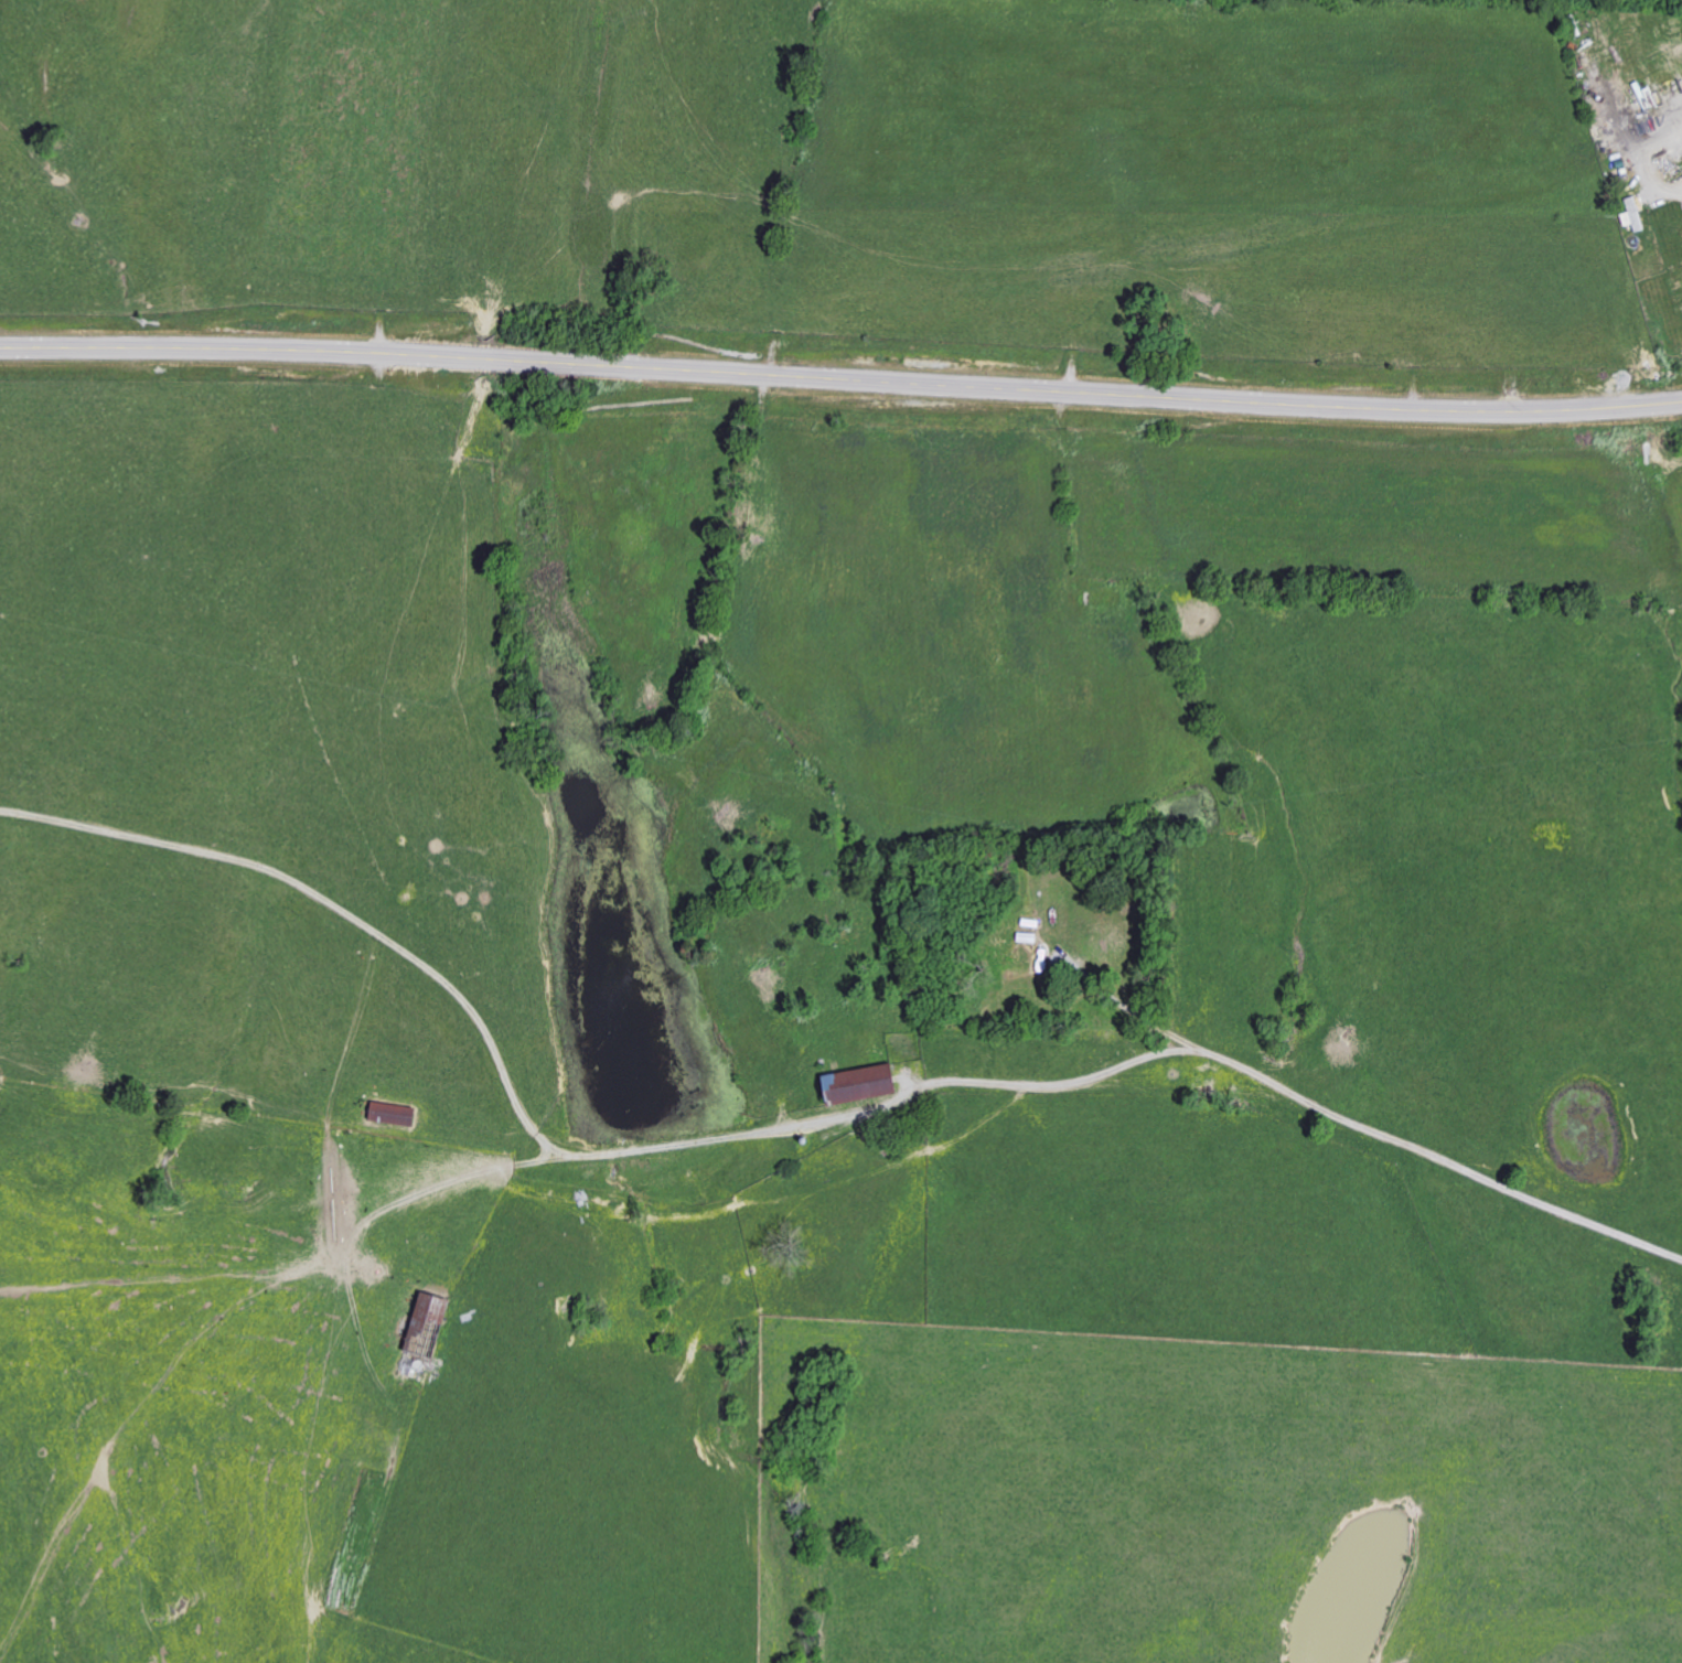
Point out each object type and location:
road: (1642, 150)
building: (1636, 212)
road: (840, 382)
road: (1147, 1029)
building: (859, 1084)
building: (393, 1114)
road: (799, 1140)
building: (424, 1338)

